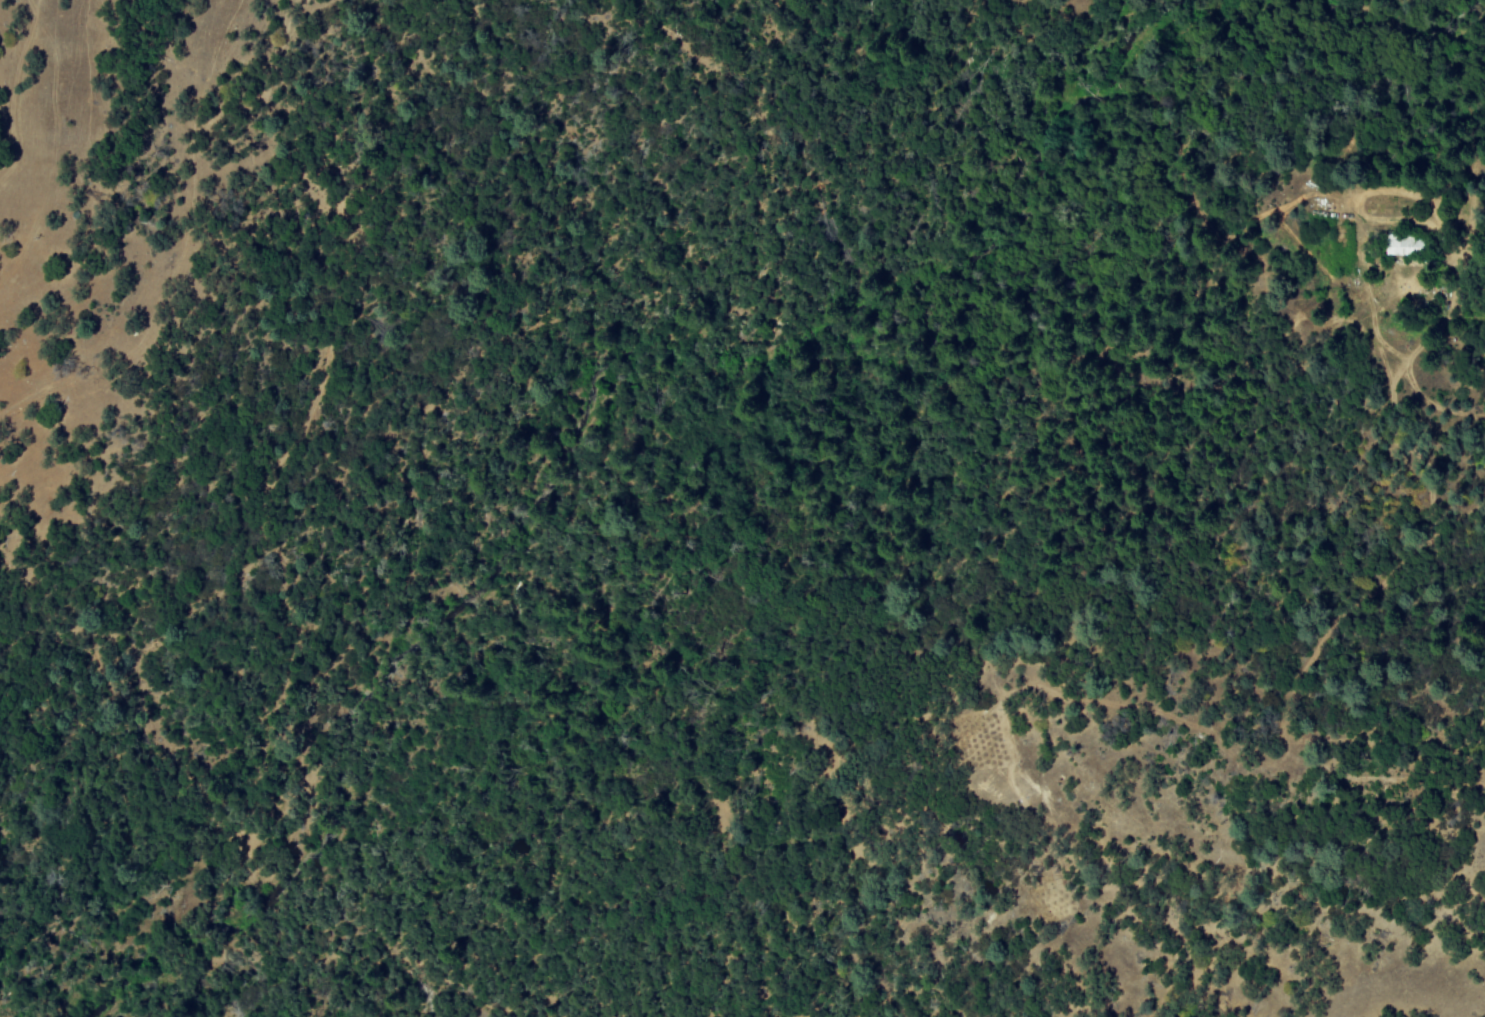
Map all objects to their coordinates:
road: (1483, 252)

